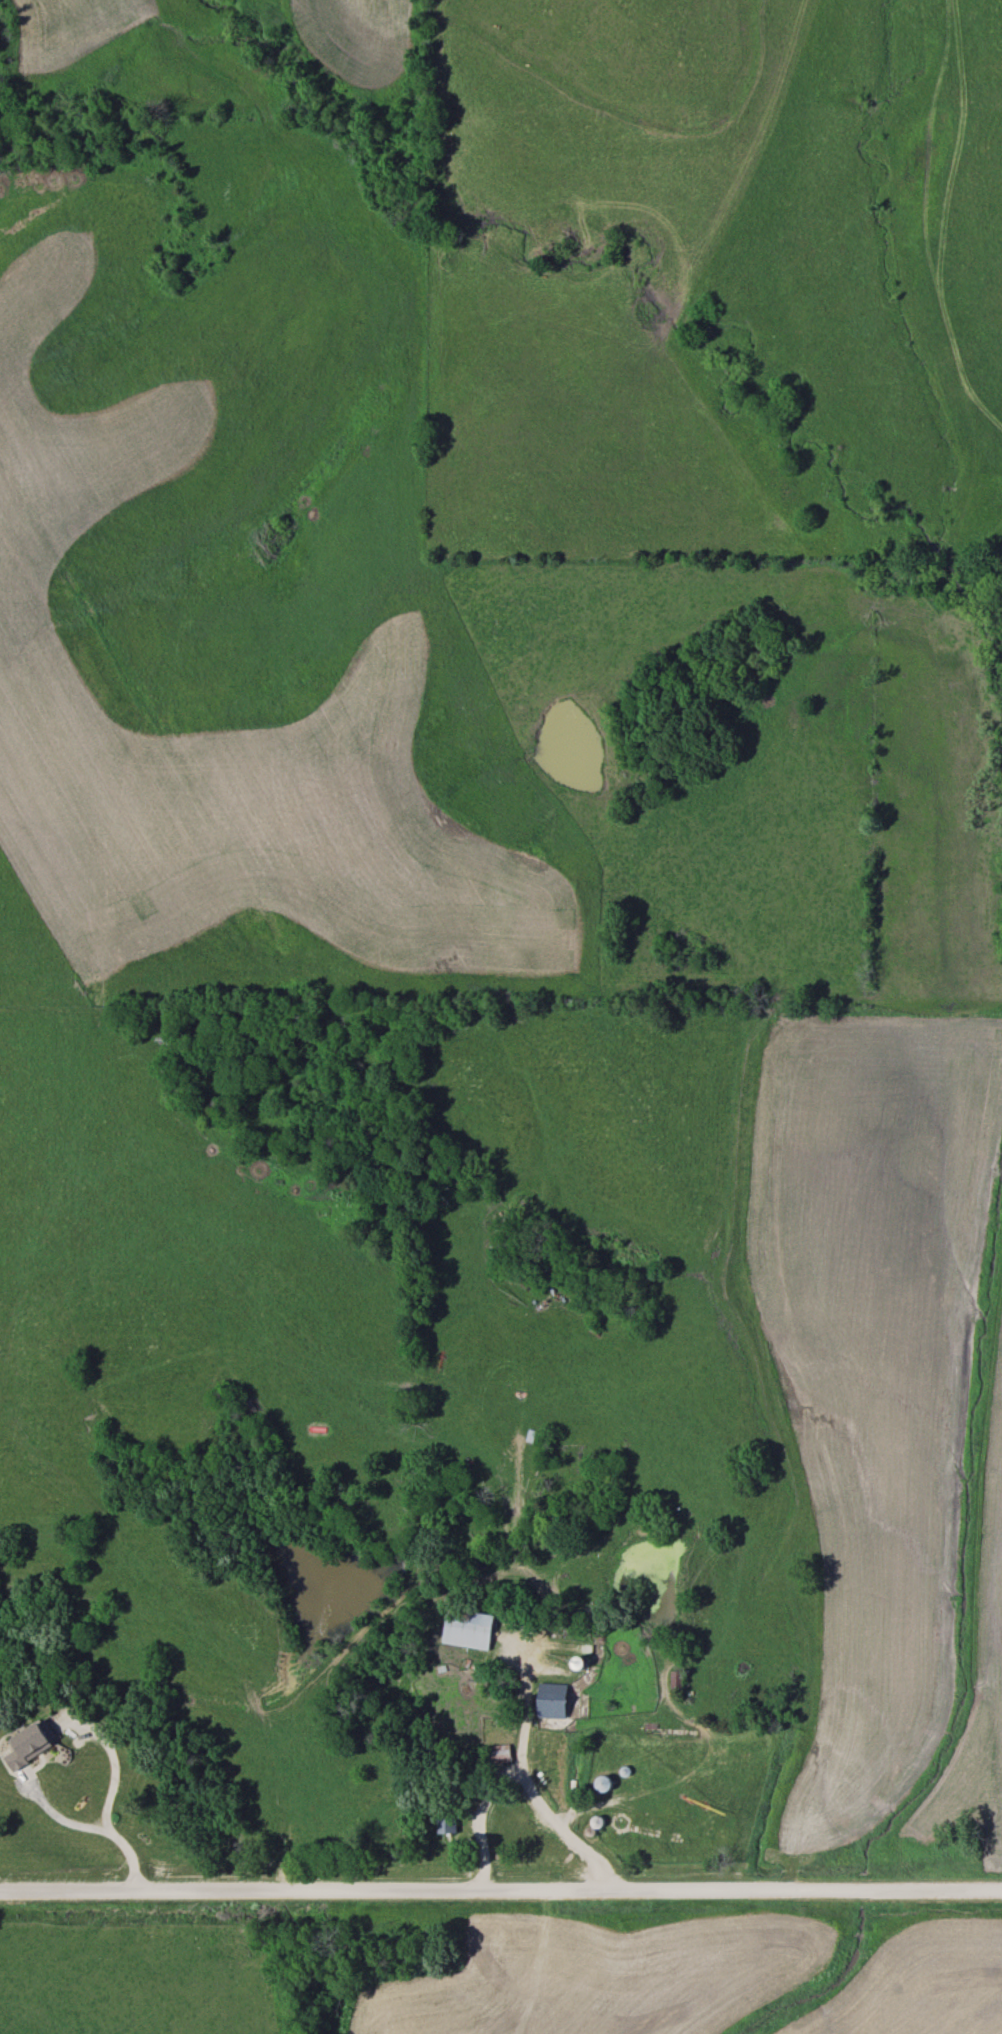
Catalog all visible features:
building: (465, 1629)
building: (673, 1682)
building: (547, 1701)
building: (26, 1744)
building: (499, 1753)
road: (524, 1778)
building: (598, 1783)
building: (443, 1824)
road: (501, 1891)

